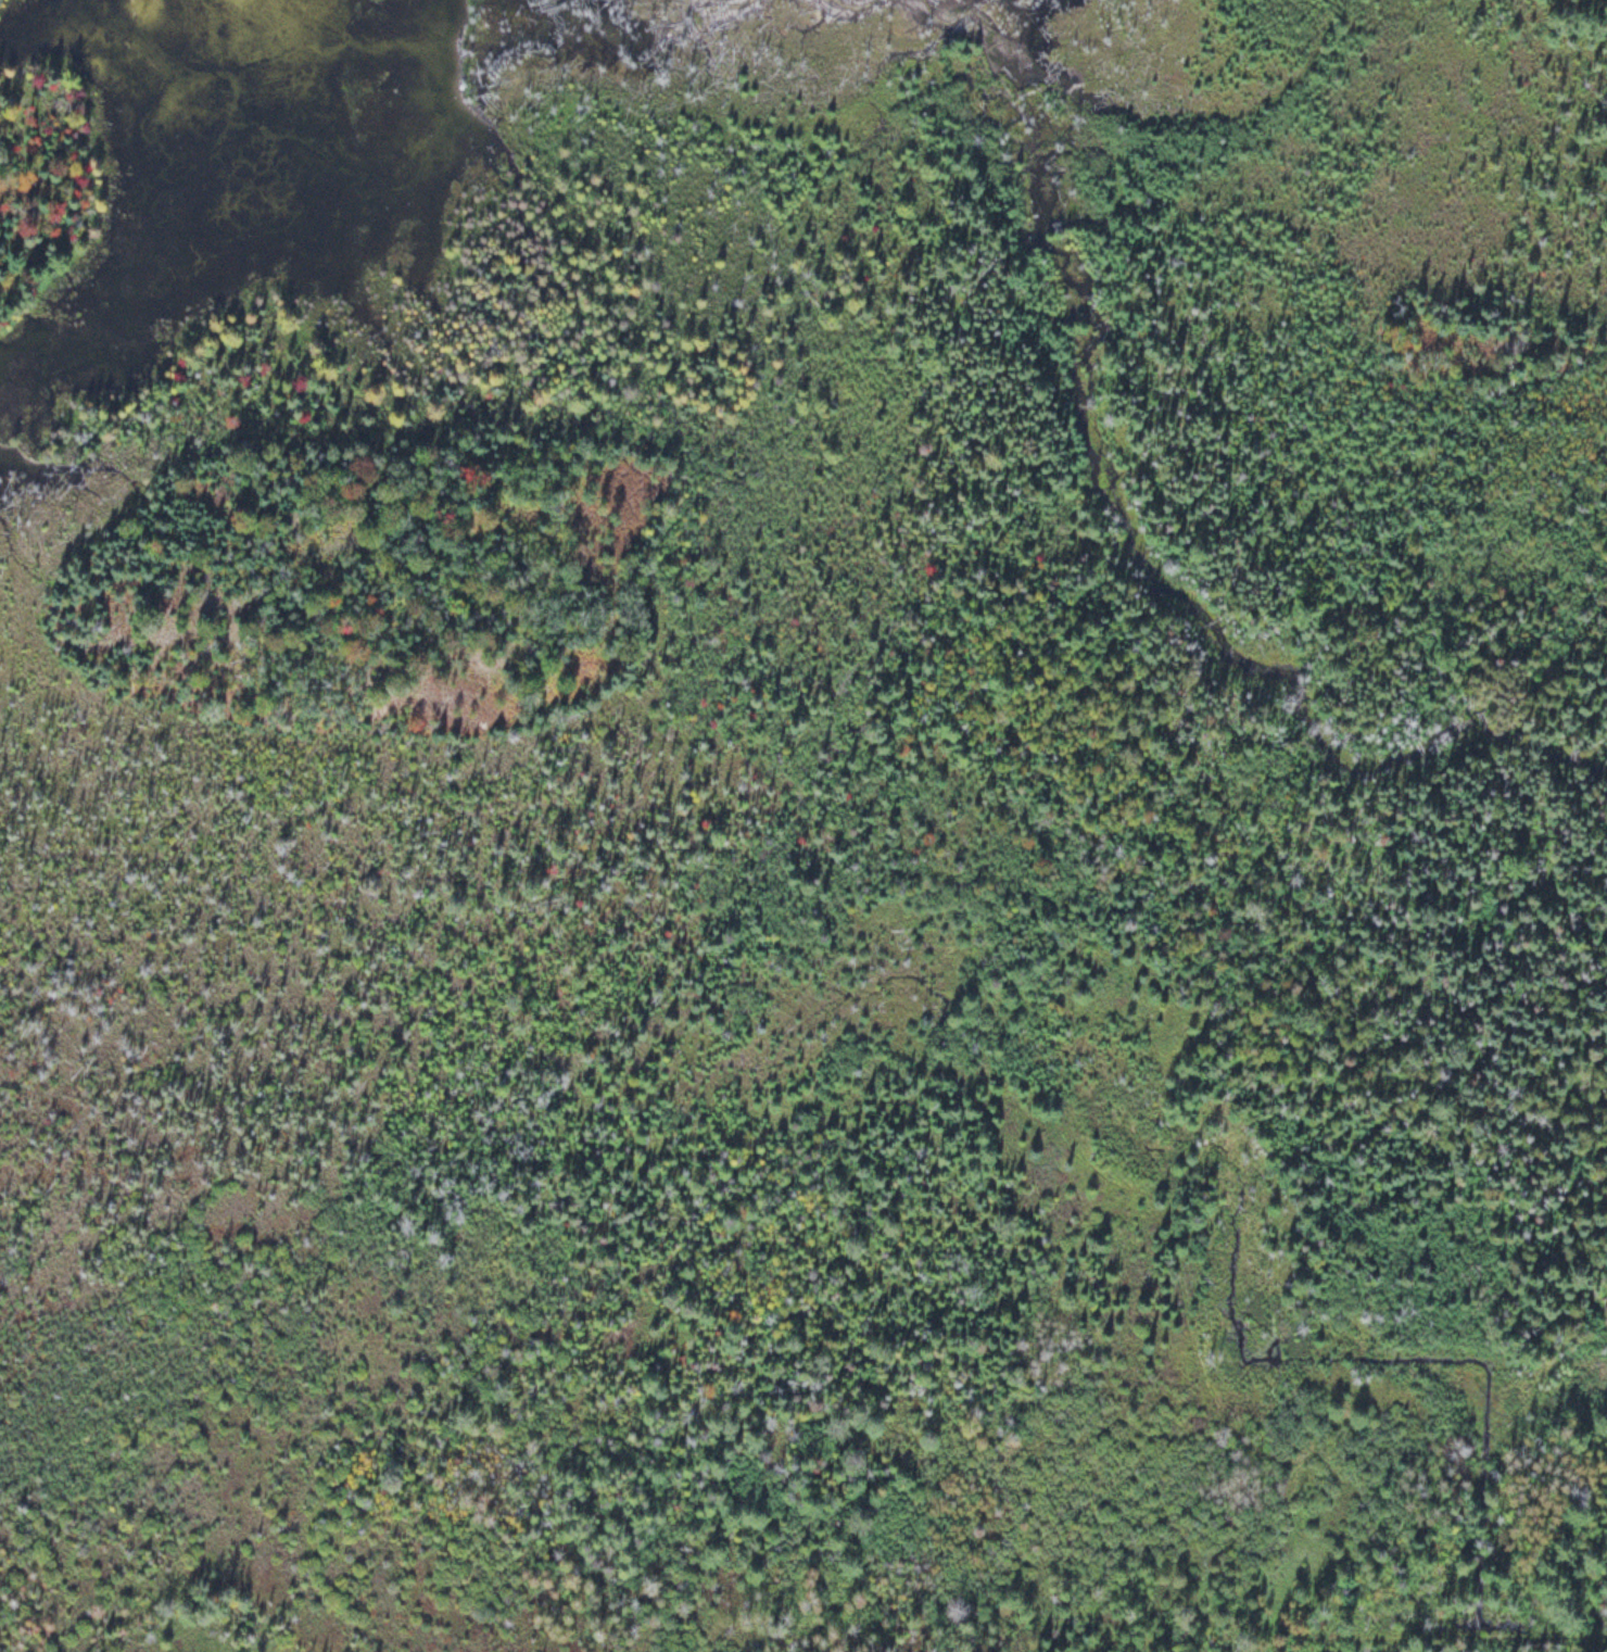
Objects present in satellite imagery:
road: (1497, 1634)

